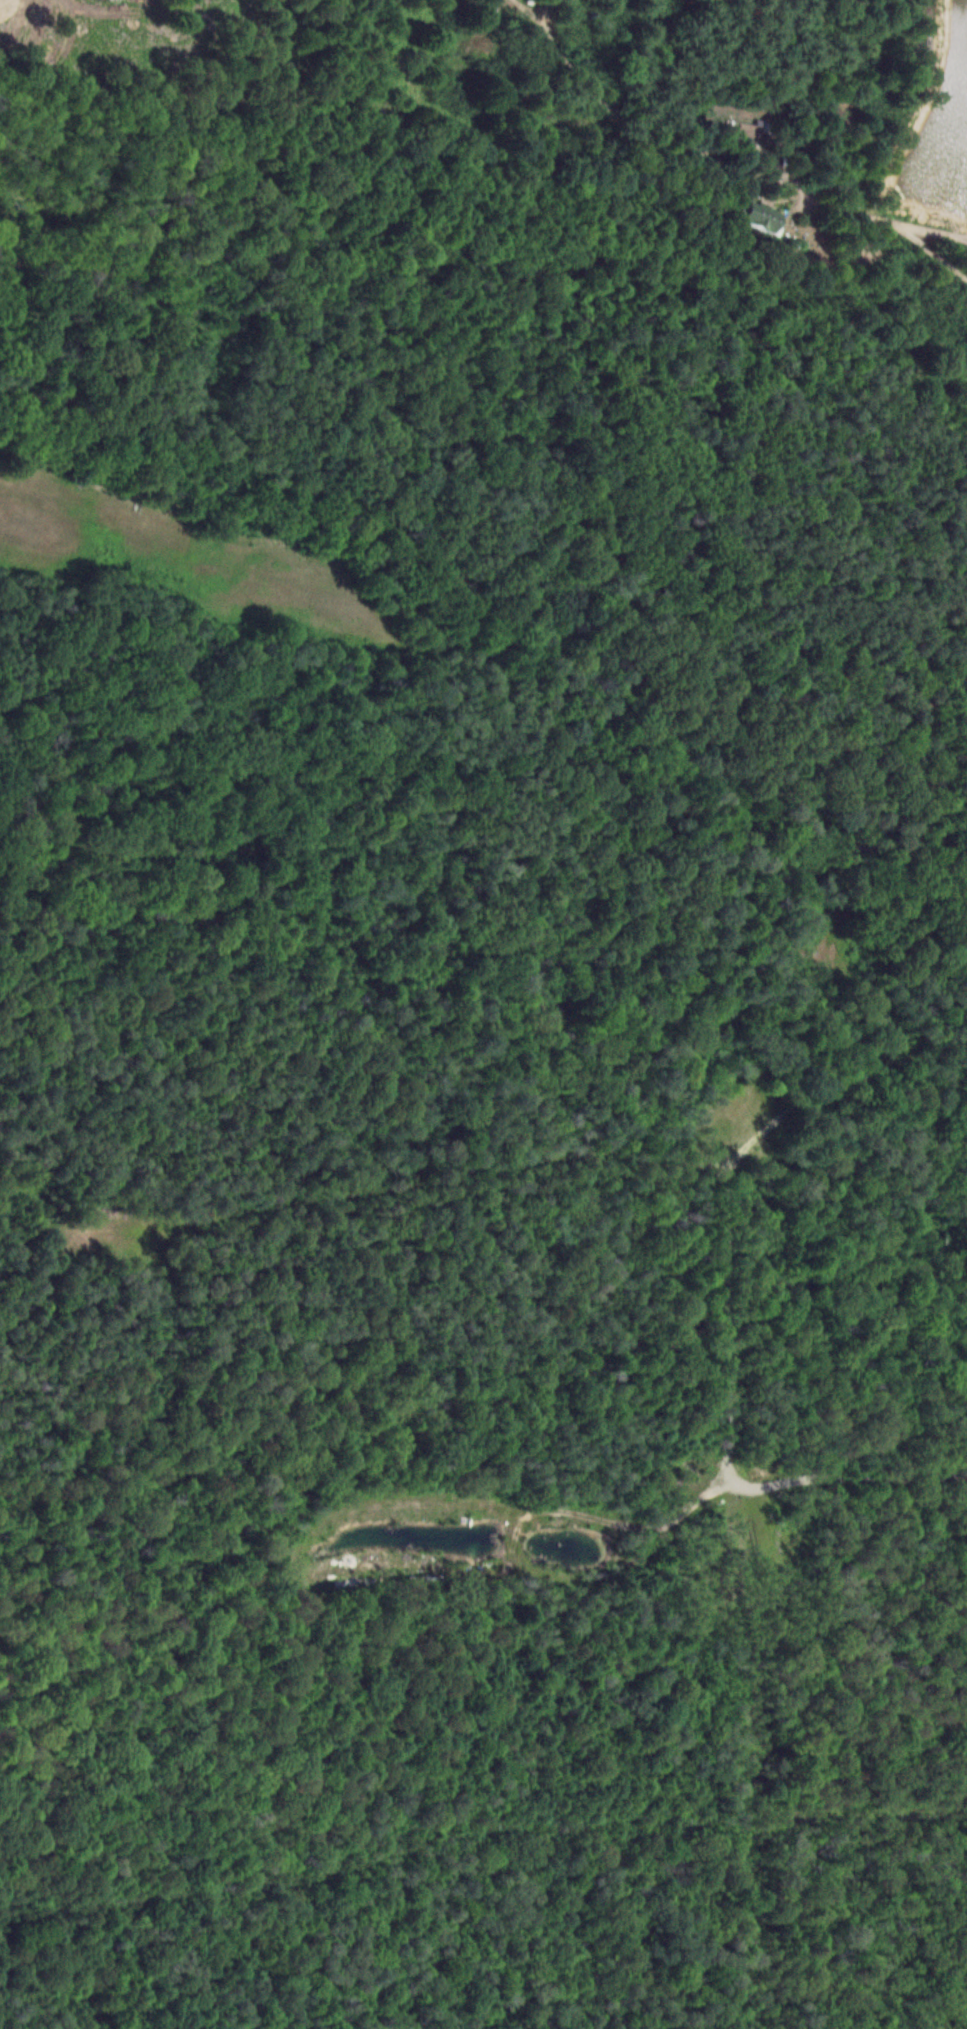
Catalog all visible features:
road: (720, 164)
building: (765, 218)
road: (935, 253)

